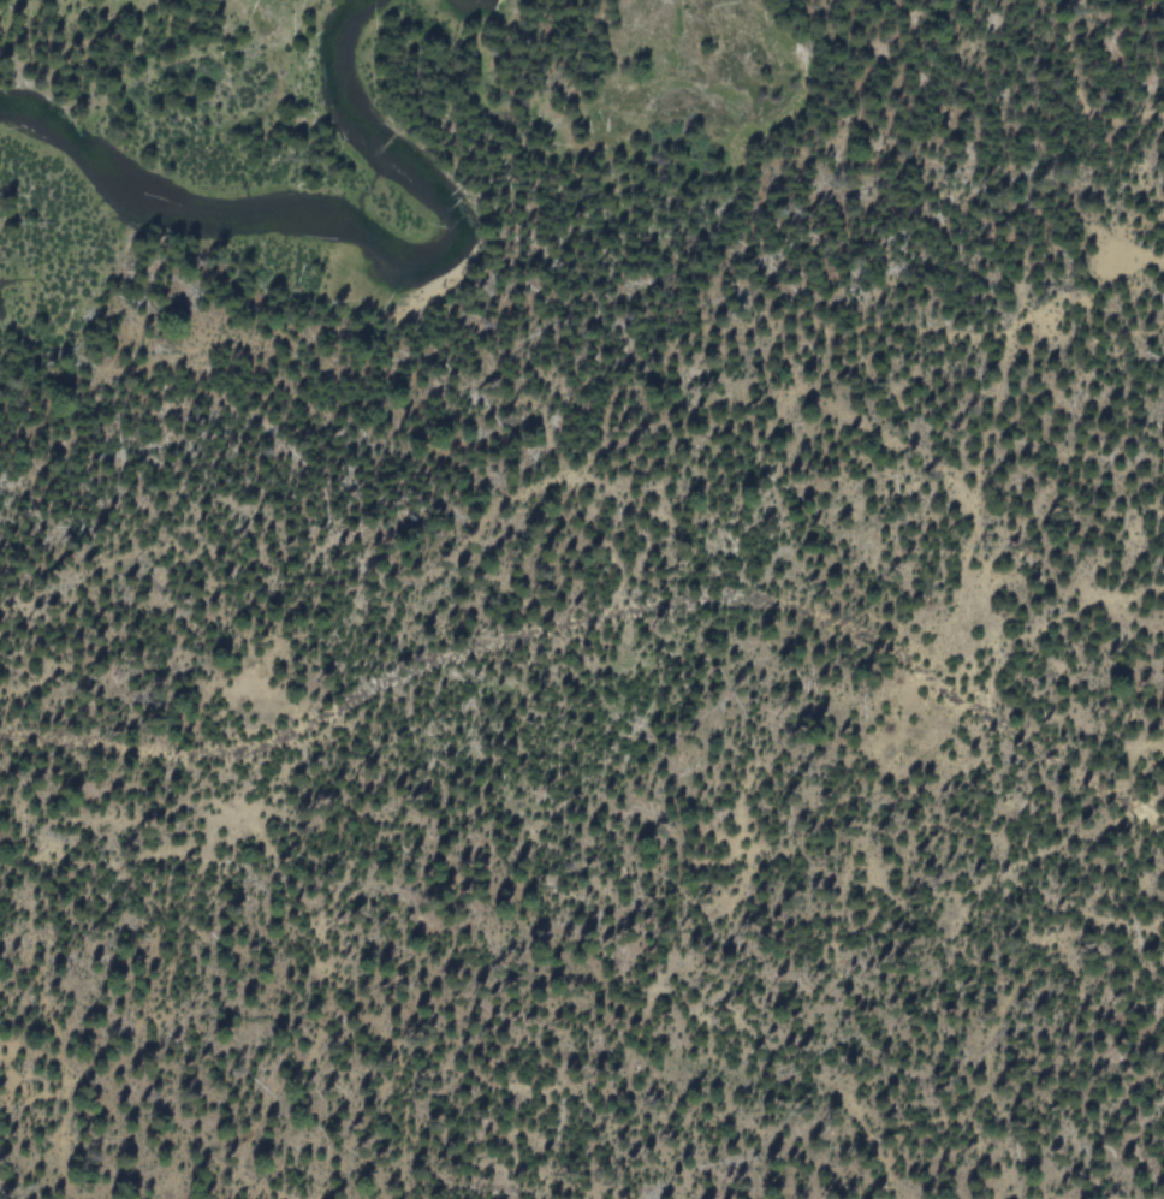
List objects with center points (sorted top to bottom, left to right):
river: (459, 2)
river: (368, 247)
road: (602, 627)

